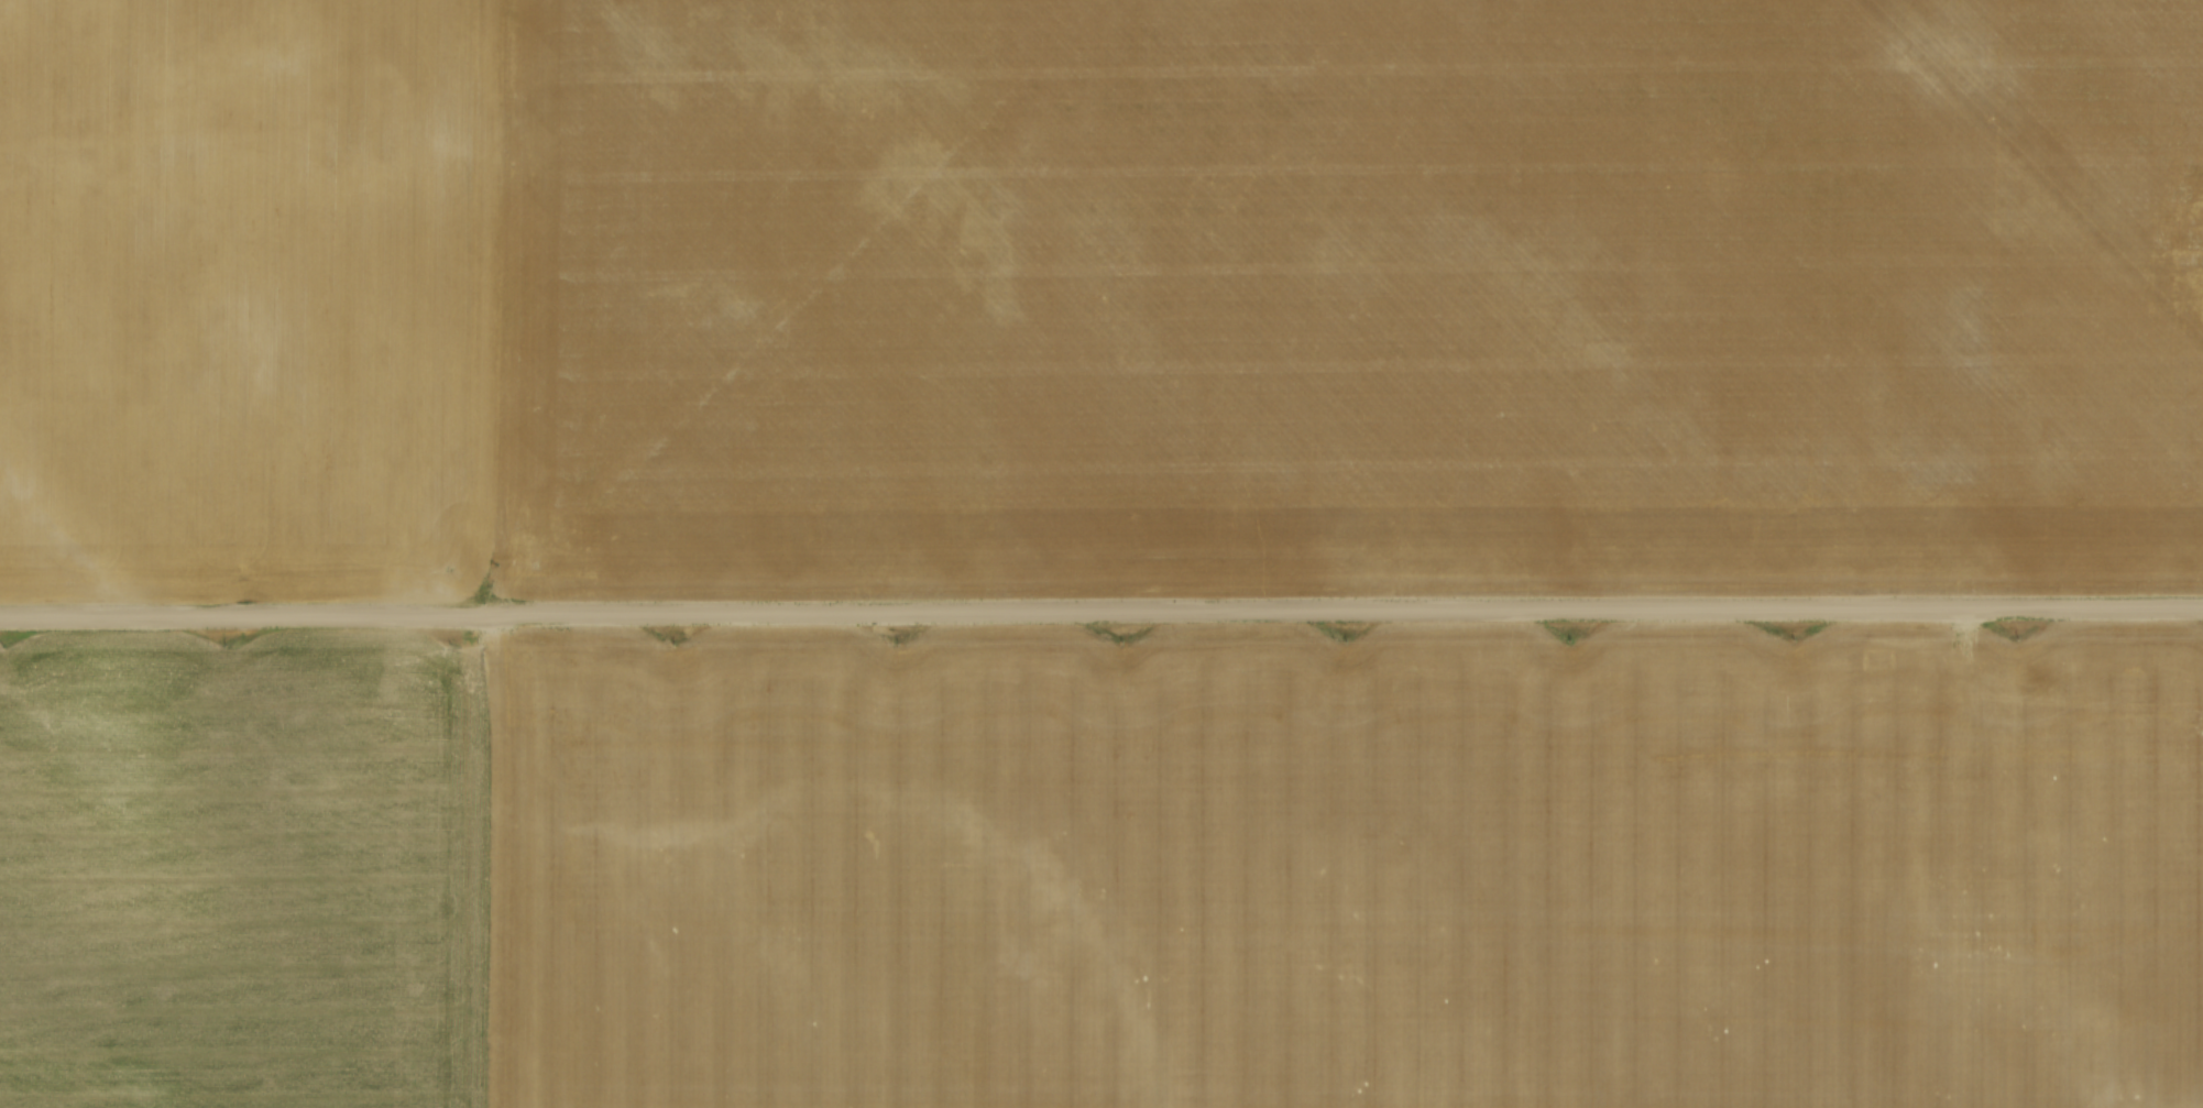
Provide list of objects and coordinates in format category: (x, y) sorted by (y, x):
building: (2196, 233)
crop: (1098, 295)
road: (1100, 613)
crop: (1104, 869)

